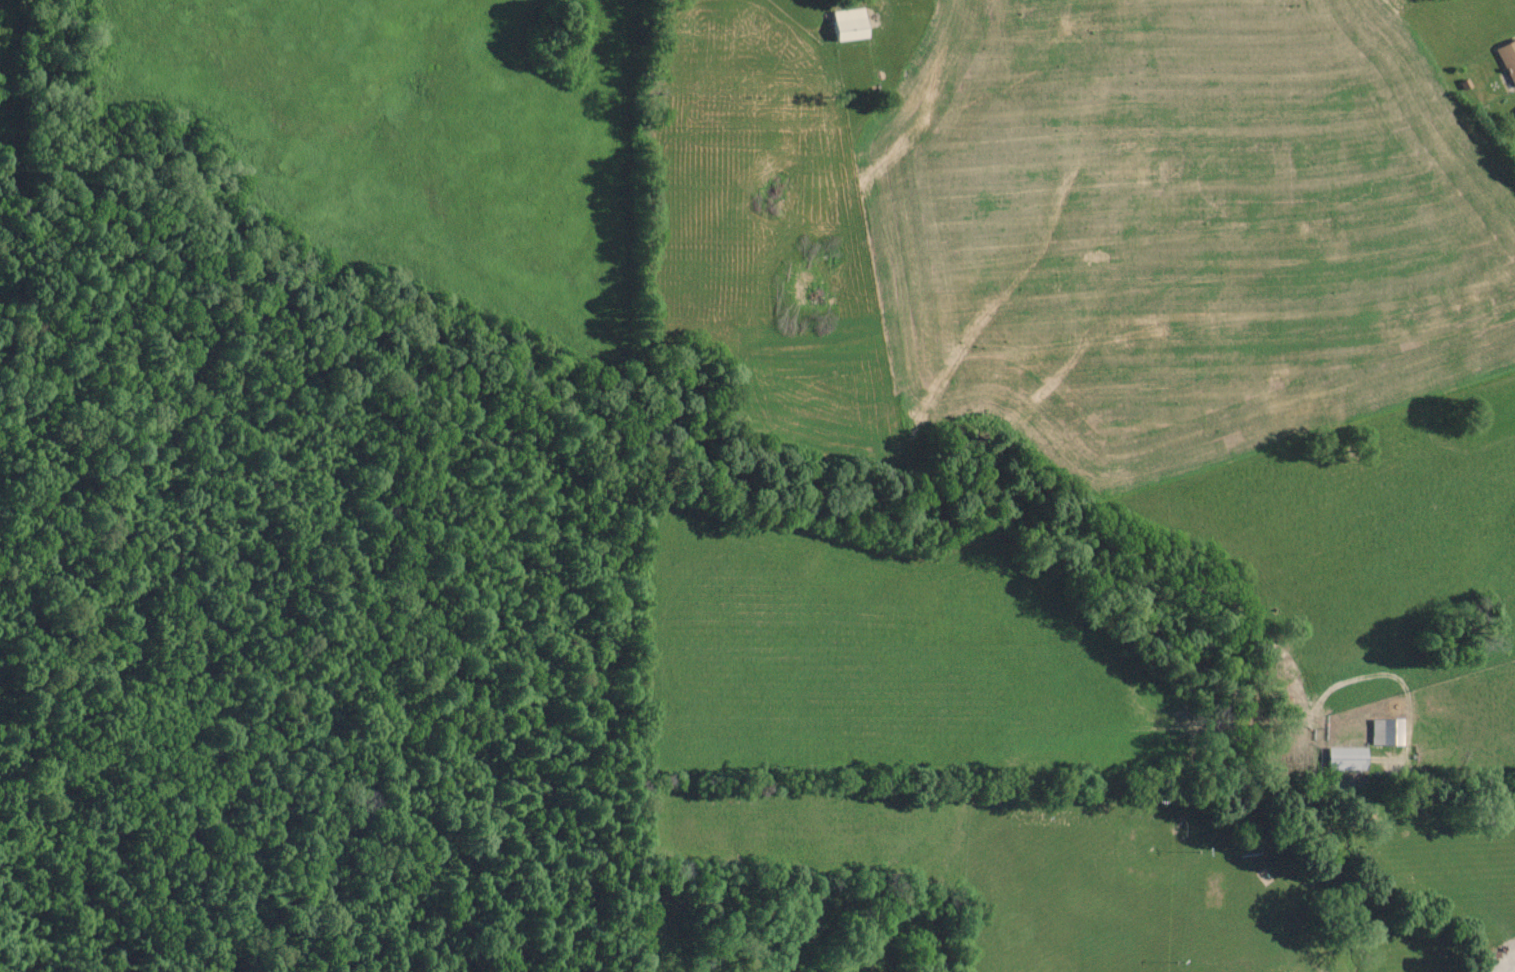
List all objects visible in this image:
building: (850, 29)
building: (1508, 59)
building: (1346, 759)

